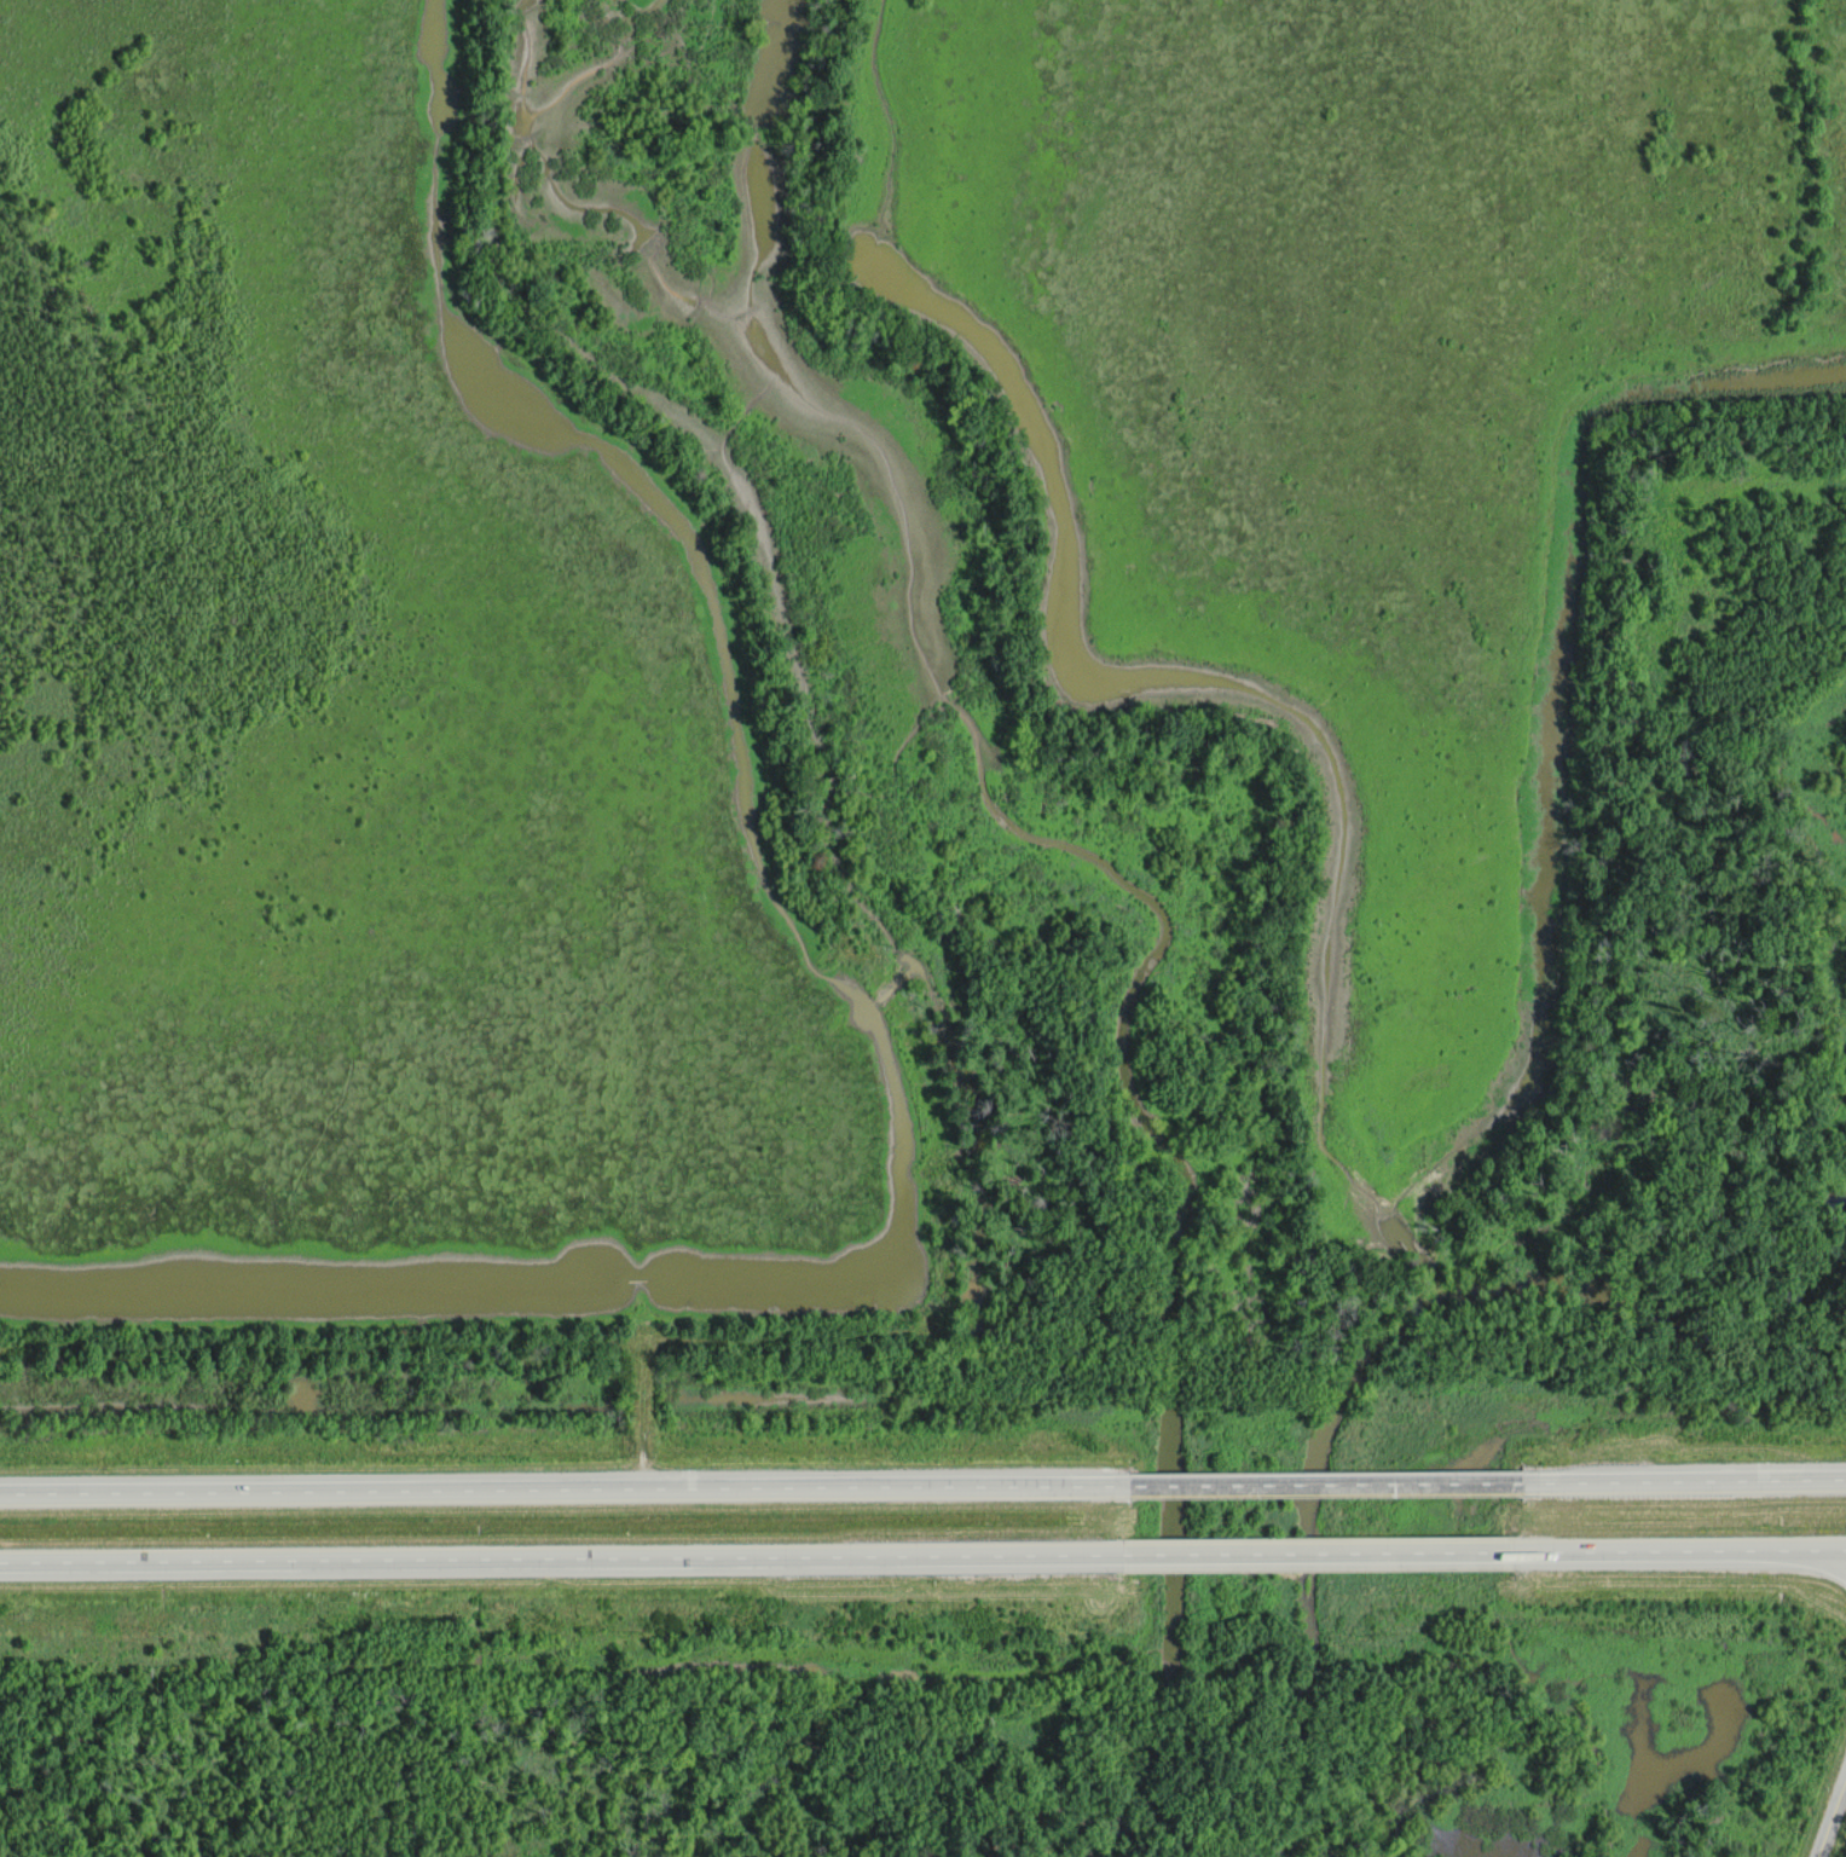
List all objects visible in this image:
crop: (387, 740)
river: (1314, 1474)
road: (1684, 1483)
road: (1325, 1488)
road: (563, 1493)
river: (1174, 1512)
road: (1678, 1551)
road: (1327, 1552)
road: (572, 1560)
road: (1830, 1560)
park: (812, 1777)
road: (1831, 1820)

